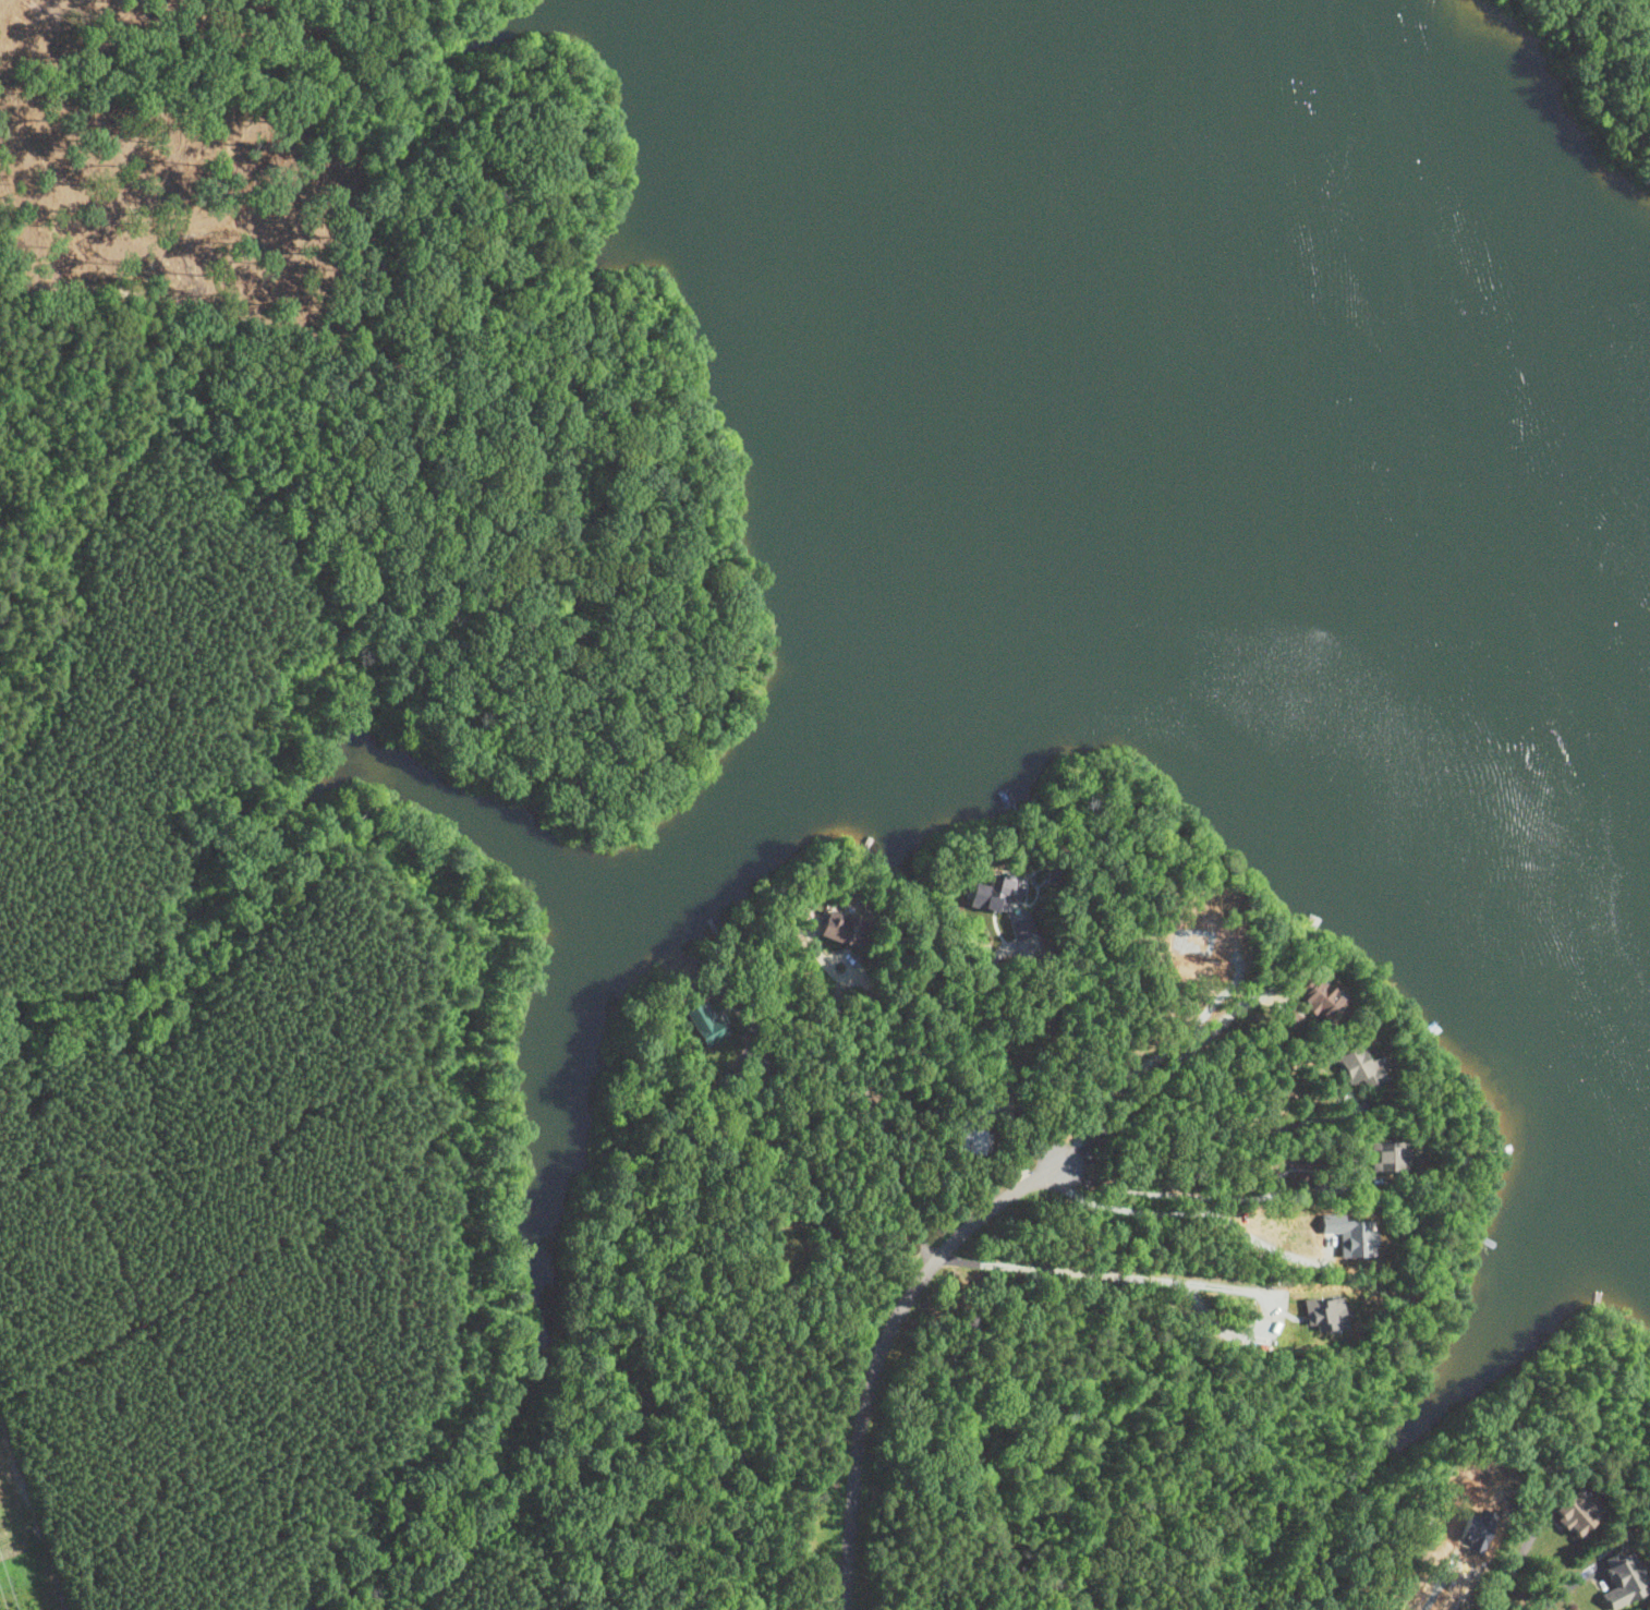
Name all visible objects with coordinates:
building: (825, 928)
building: (1350, 1067)
road: (879, 1351)
building: (1614, 1584)

